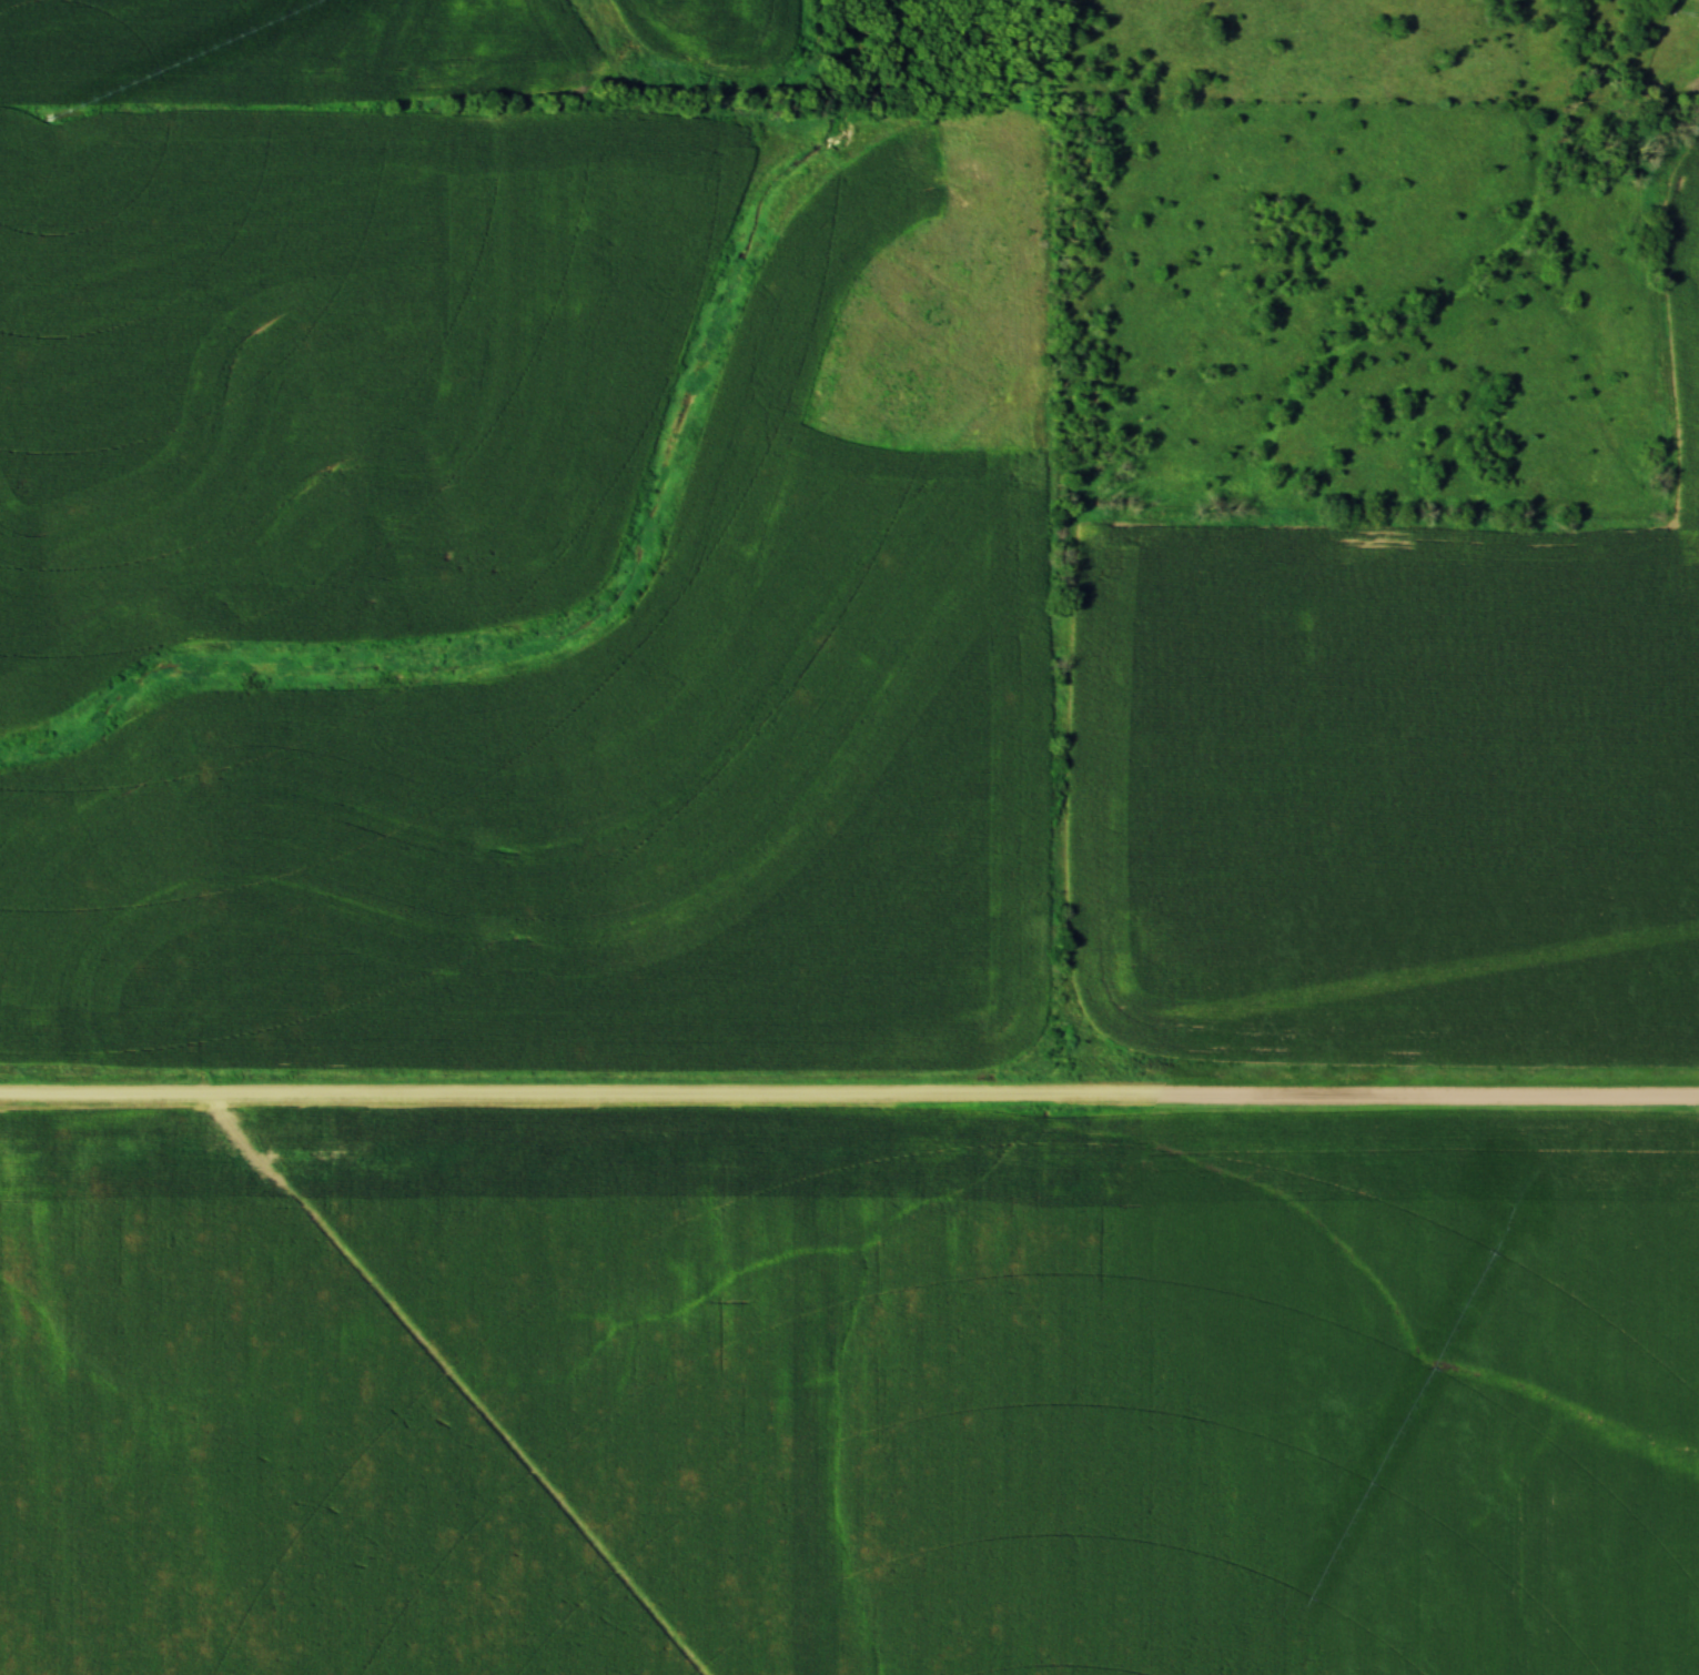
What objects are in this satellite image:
road: (849, 1093)

